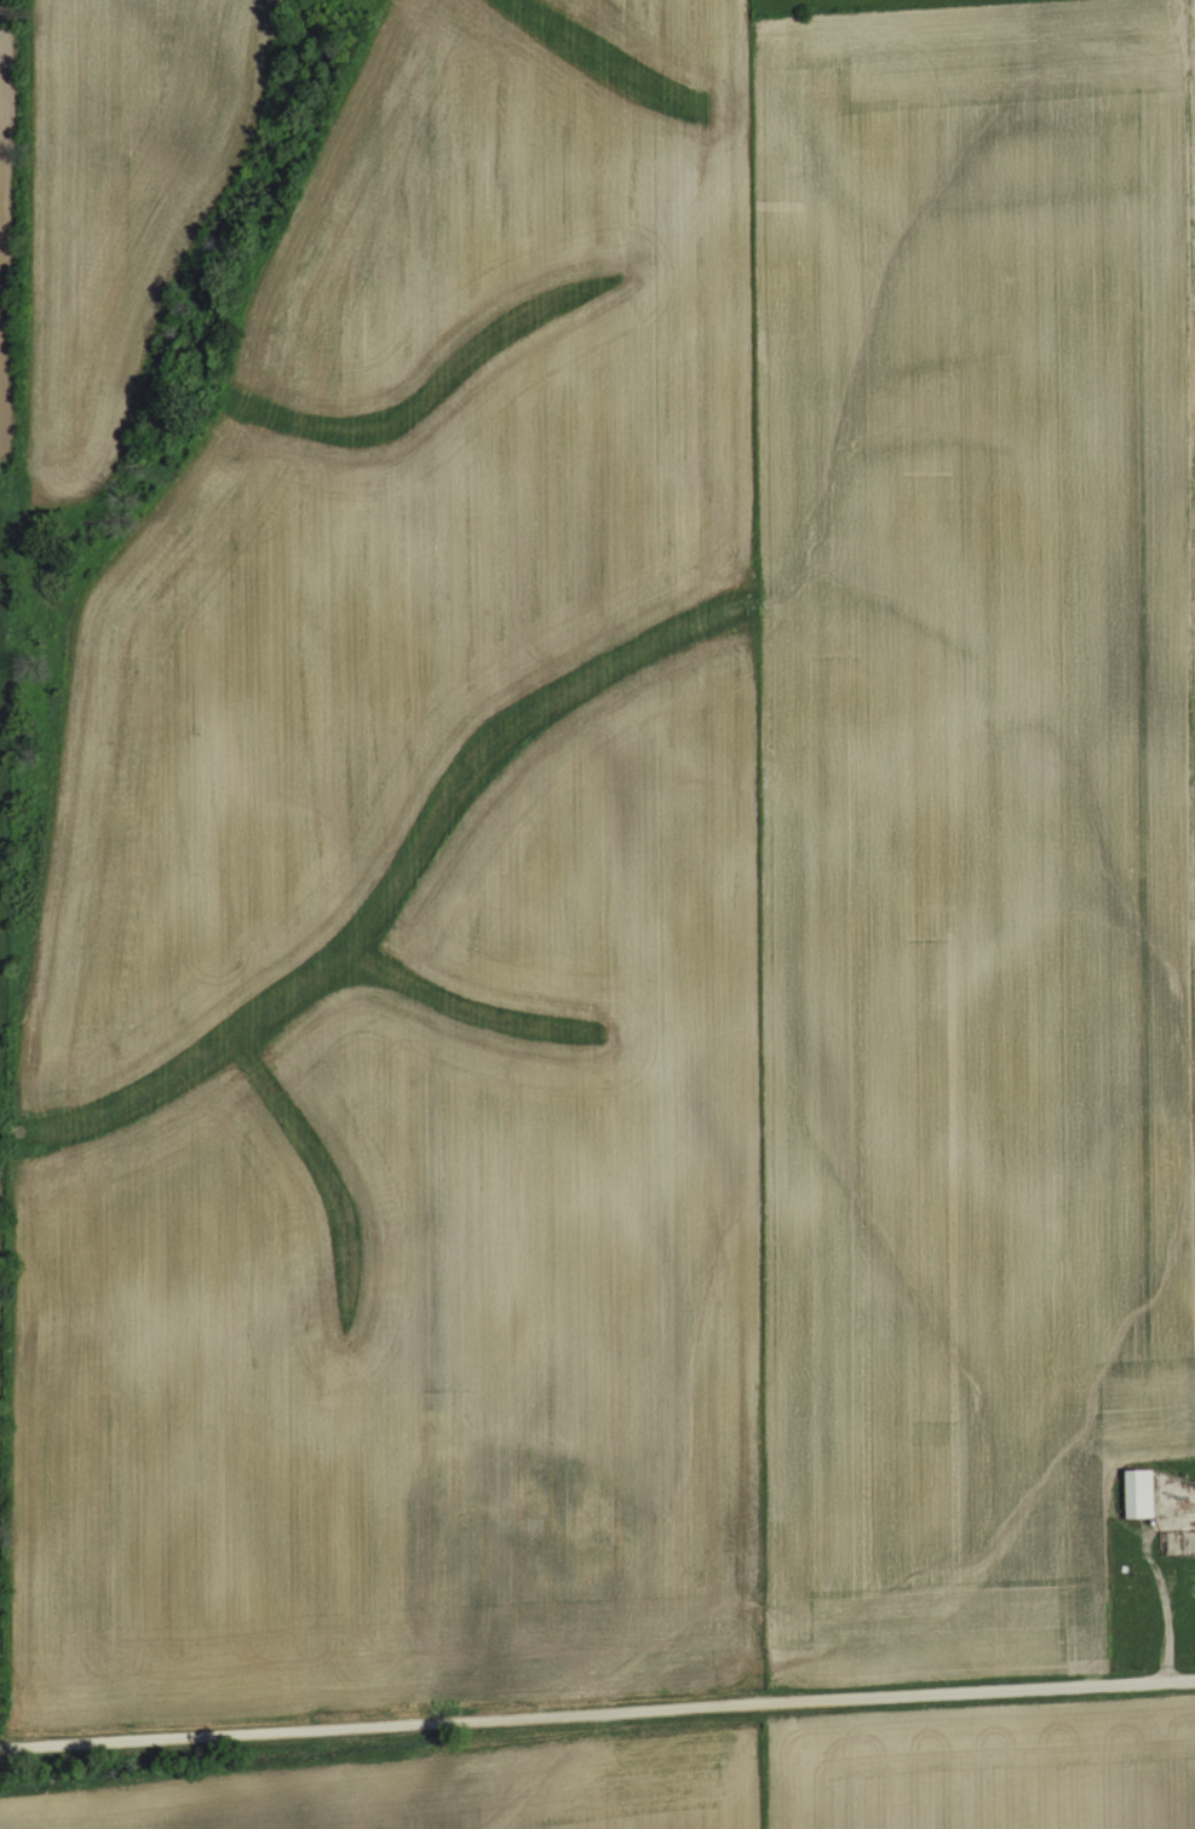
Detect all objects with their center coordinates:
road: (1190, 230)
road: (1194, 553)
road: (1194, 742)
building: (1138, 1492)
road: (1166, 1601)
road: (1182, 1630)
road: (1183, 1647)
road: (597, 1712)

